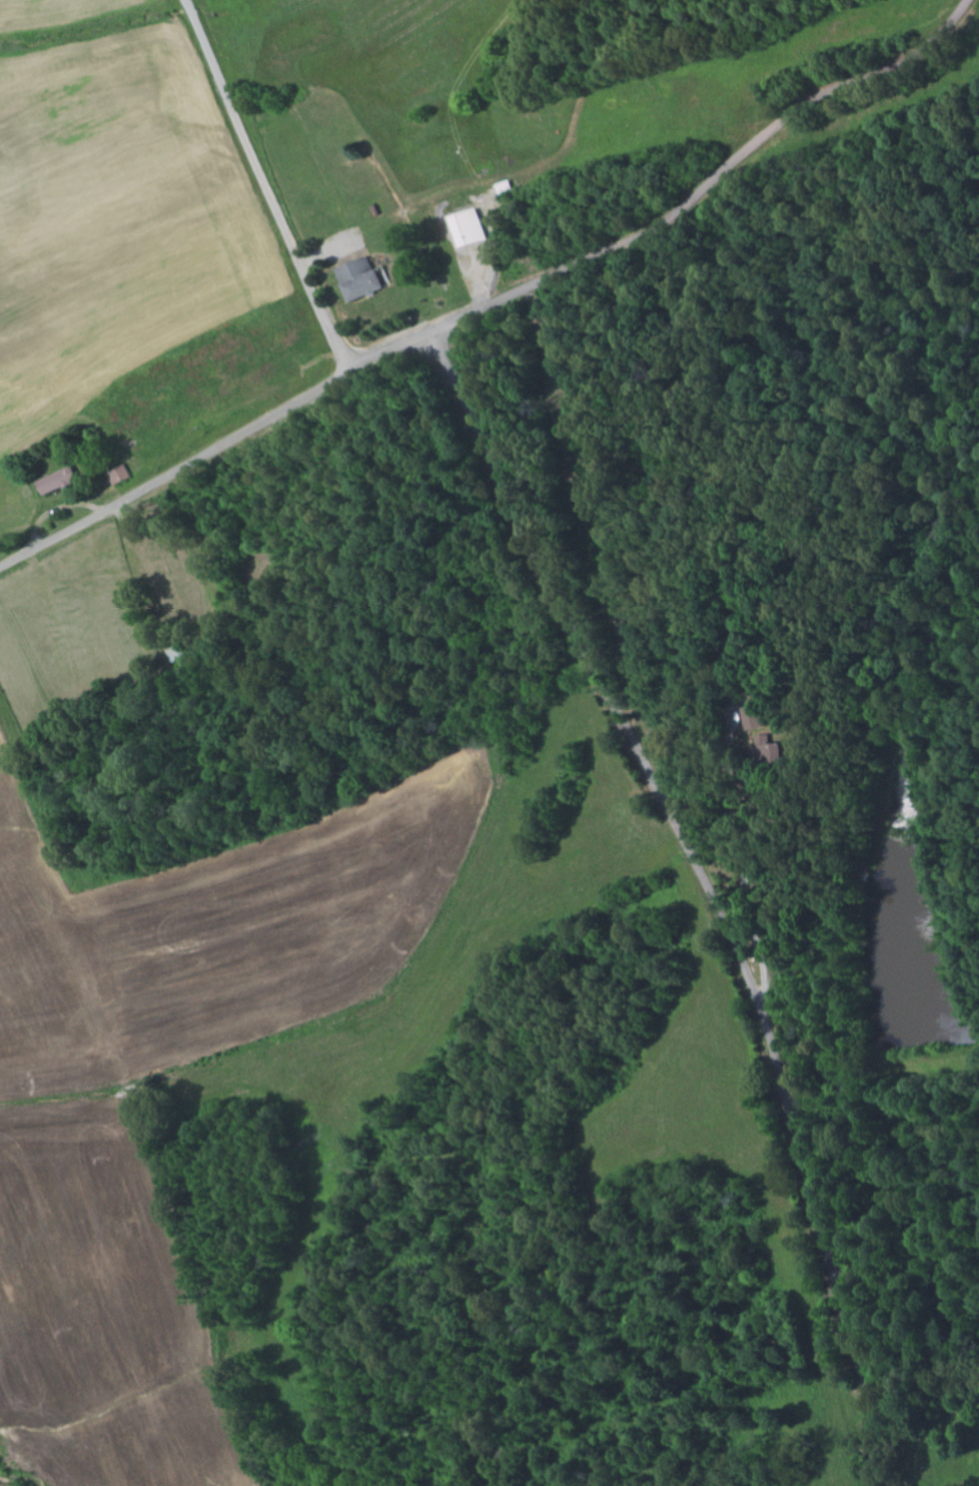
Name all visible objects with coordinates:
road: (263, 186)
building: (468, 229)
building: (360, 280)
road: (498, 299)
building: (120, 474)
building: (57, 482)
building: (756, 717)
road: (708, 890)
road: (801, 1461)

